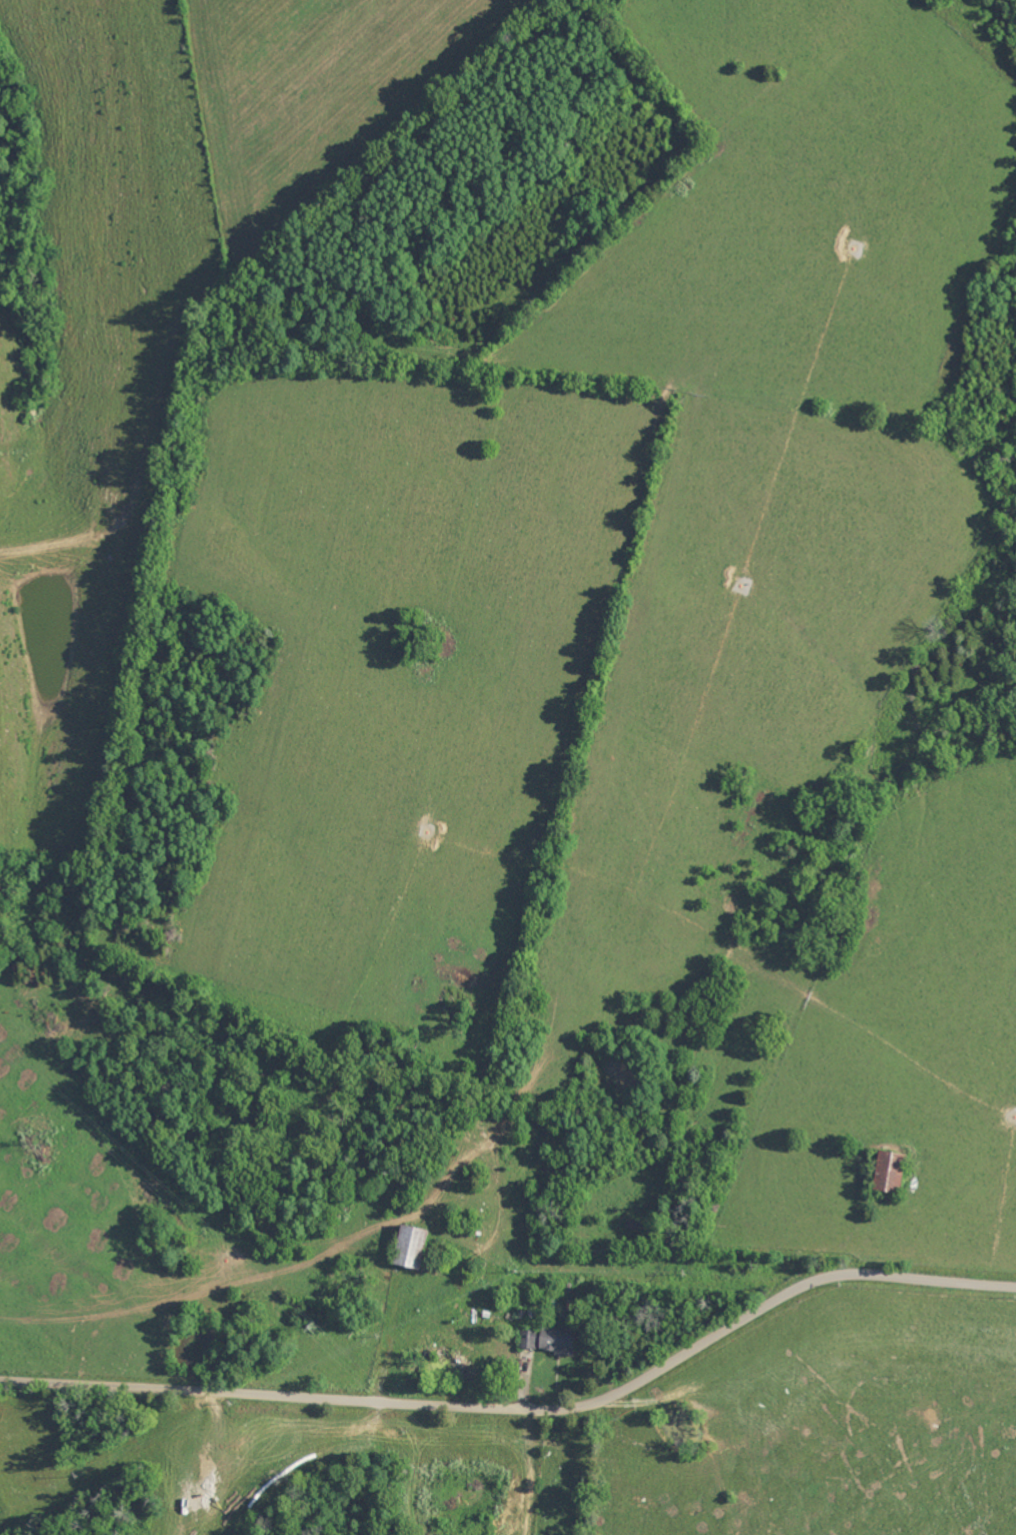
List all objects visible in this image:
building: (888, 1171)
building: (410, 1247)
power tower: (315, 1327)
building: (547, 1340)
road: (524, 1406)

